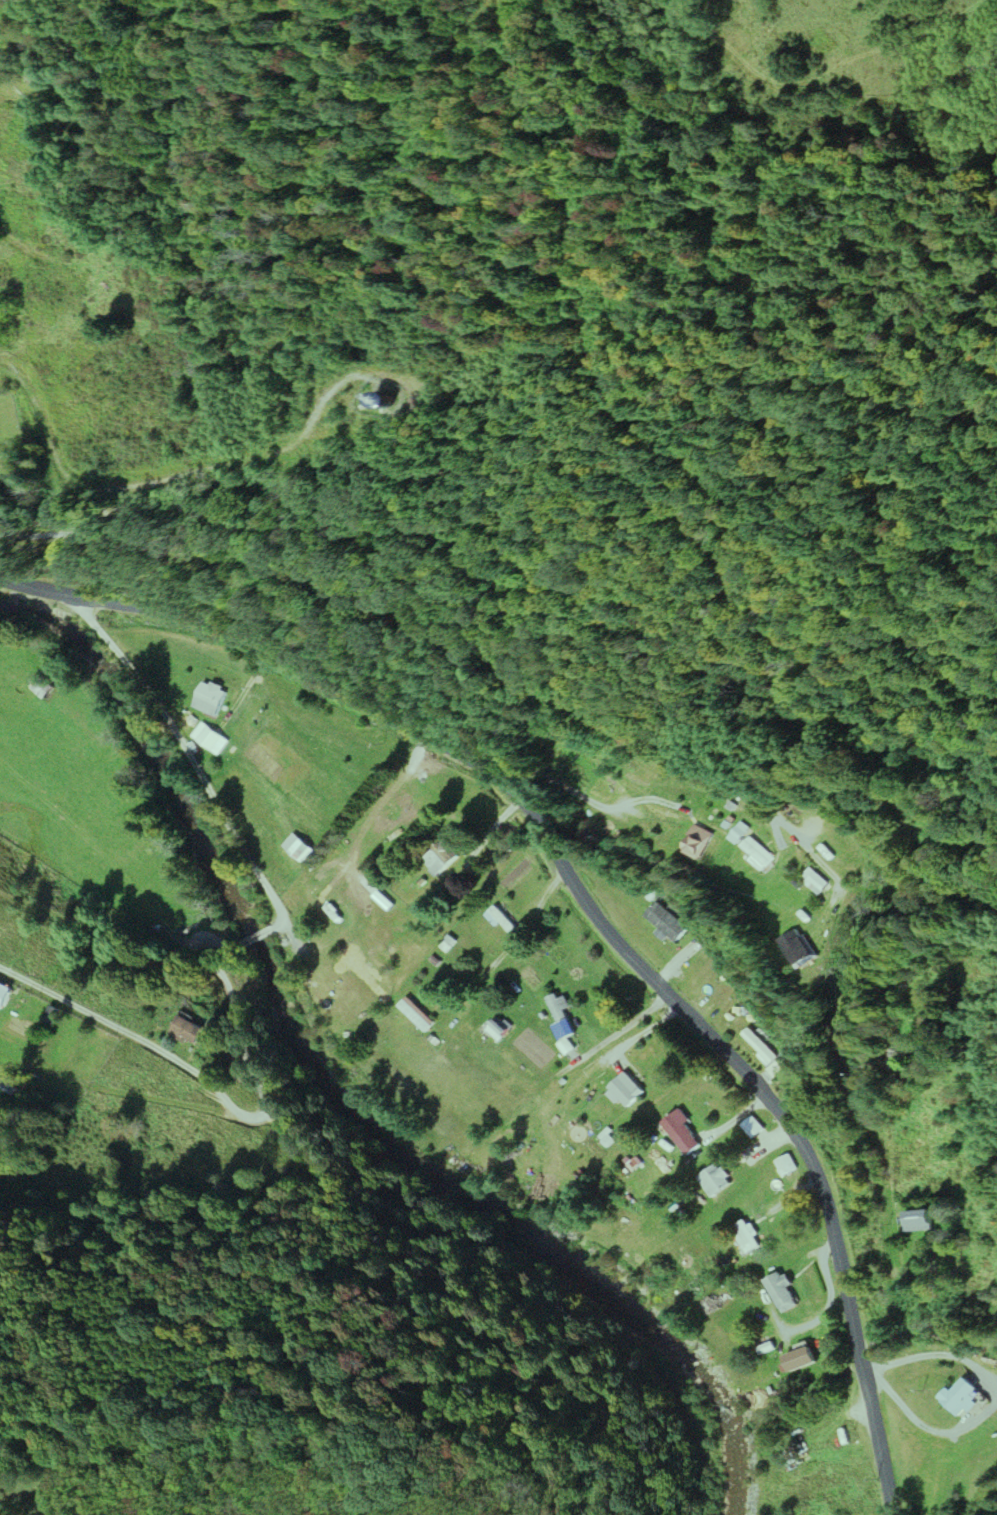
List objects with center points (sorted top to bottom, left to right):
road: (818, 65)
road: (312, 305)
building: (383, 401)
road: (172, 480)
building: (41, 686)
building: (209, 698)
building: (208, 739)
road: (189, 757)
building: (738, 833)
building: (697, 842)
building: (298, 849)
building: (757, 854)
building: (442, 856)
building: (816, 883)
road: (593, 902)
building: (502, 921)
building: (665, 921)
road: (252, 937)
building: (799, 947)
building: (4, 993)
building: (416, 1014)
building: (561, 1018)
building: (186, 1030)
building: (497, 1030)
building: (760, 1045)
building: (893, 1061)
building: (625, 1088)
river: (344, 1090)
road: (233, 1105)
building: (752, 1127)
building: (680, 1131)
building: (785, 1164)
building: (715, 1179)
building: (918, 1220)
building: (747, 1235)
building: (782, 1291)
building: (799, 1358)
building: (960, 1397)

